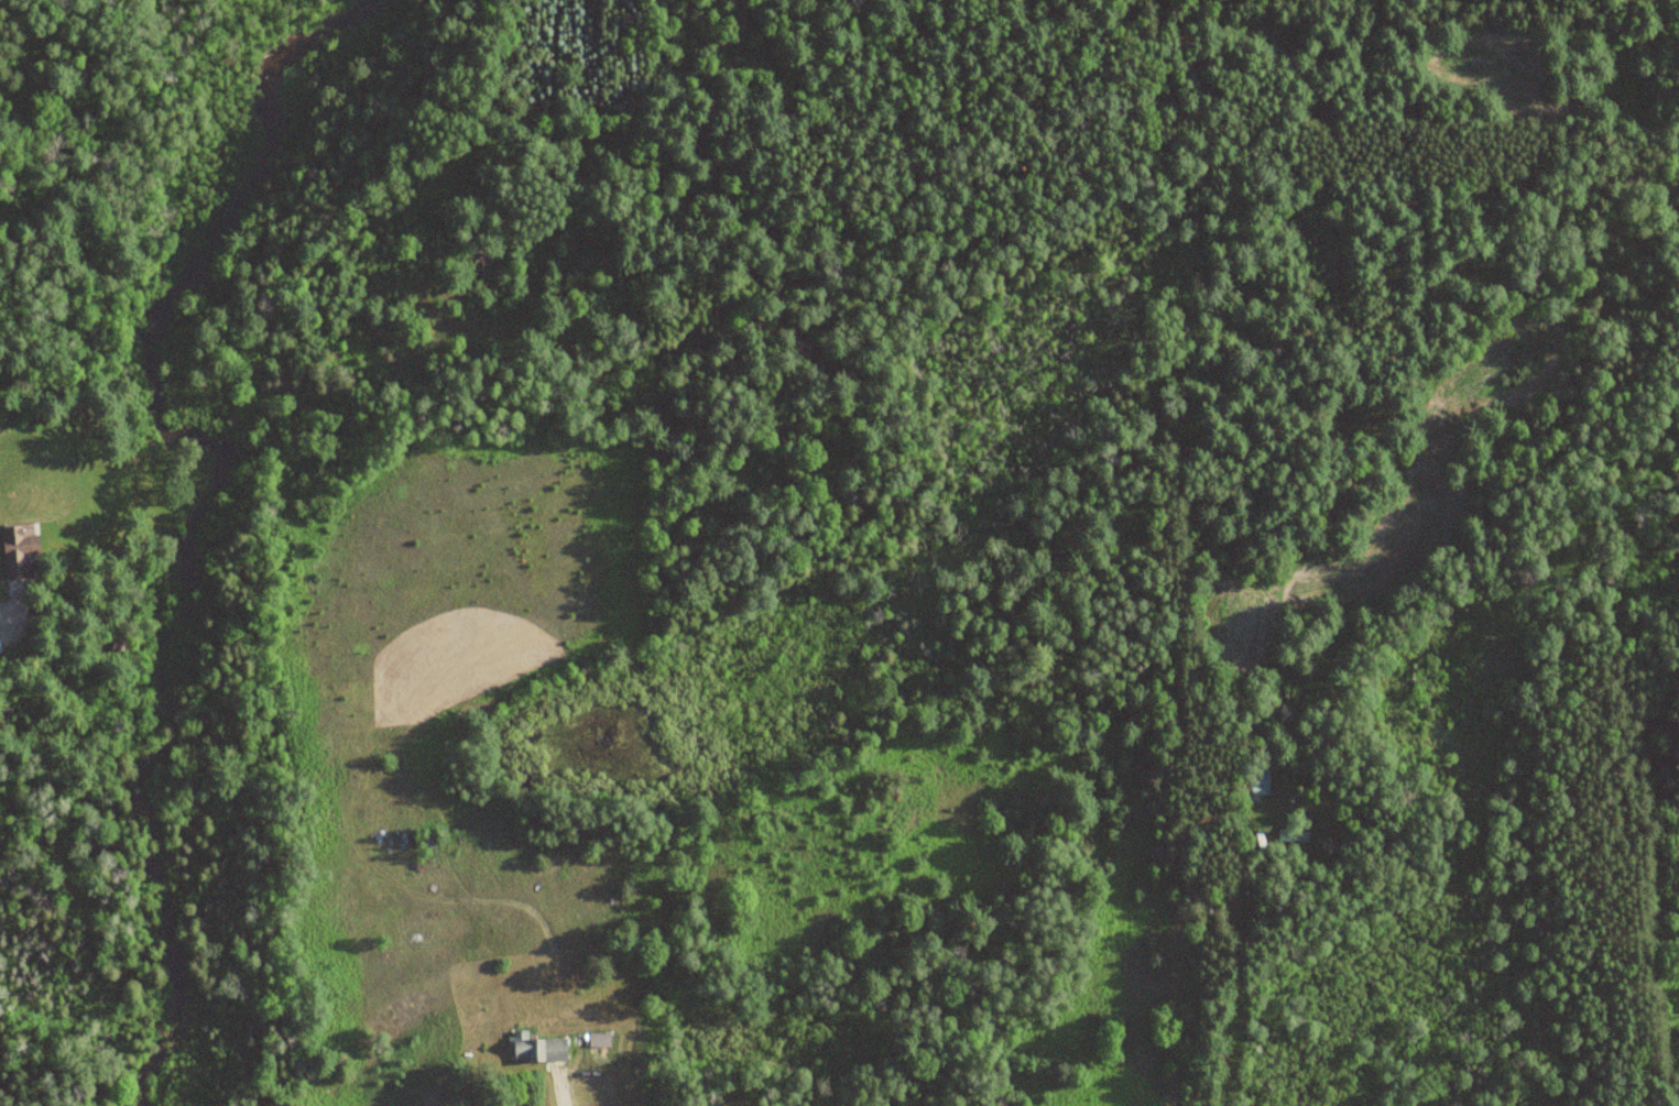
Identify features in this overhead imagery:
river: (214, 495)
building: (18, 550)
building: (1254, 780)
building: (1291, 834)
building: (537, 1049)

